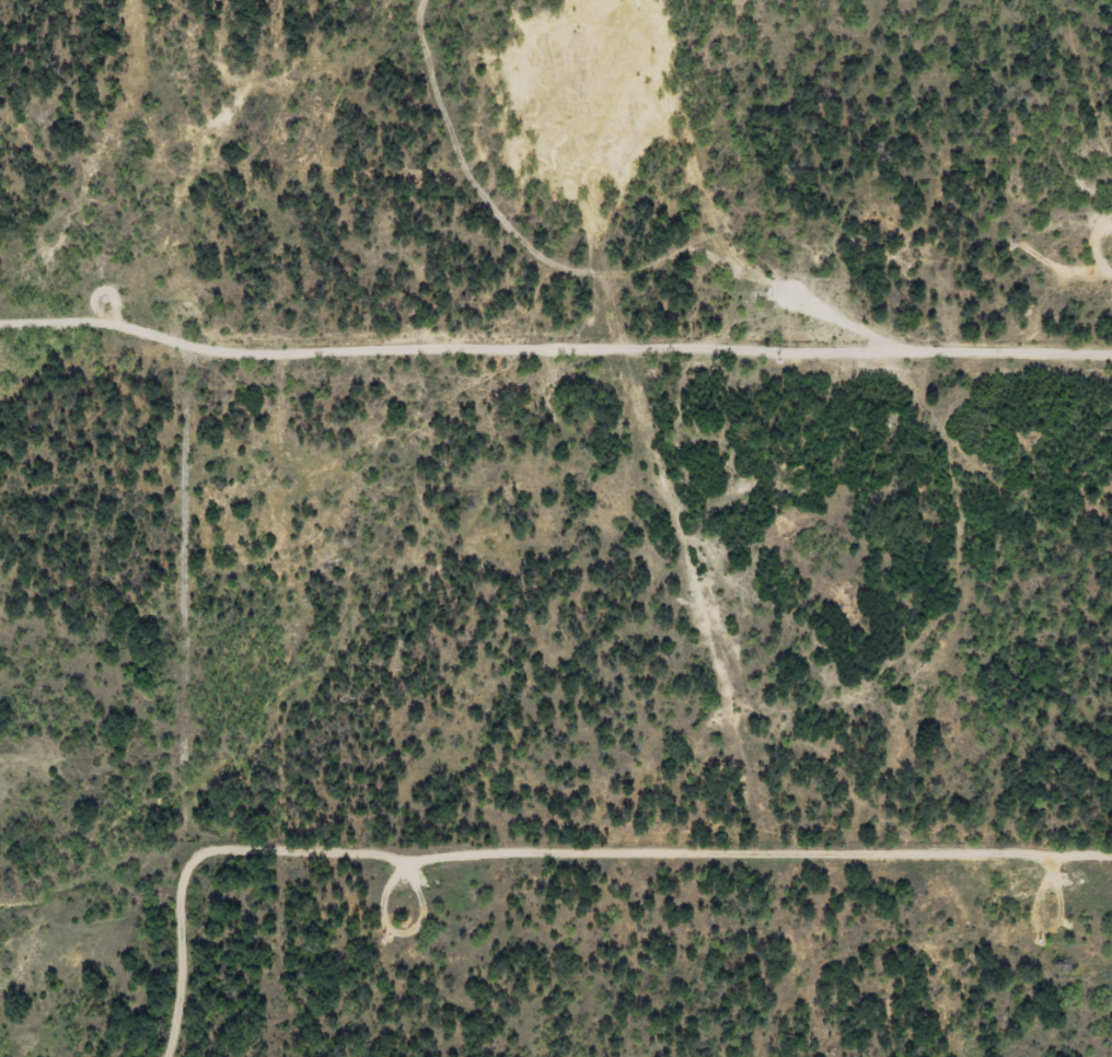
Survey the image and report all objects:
road: (1023, 348)
road: (847, 876)

